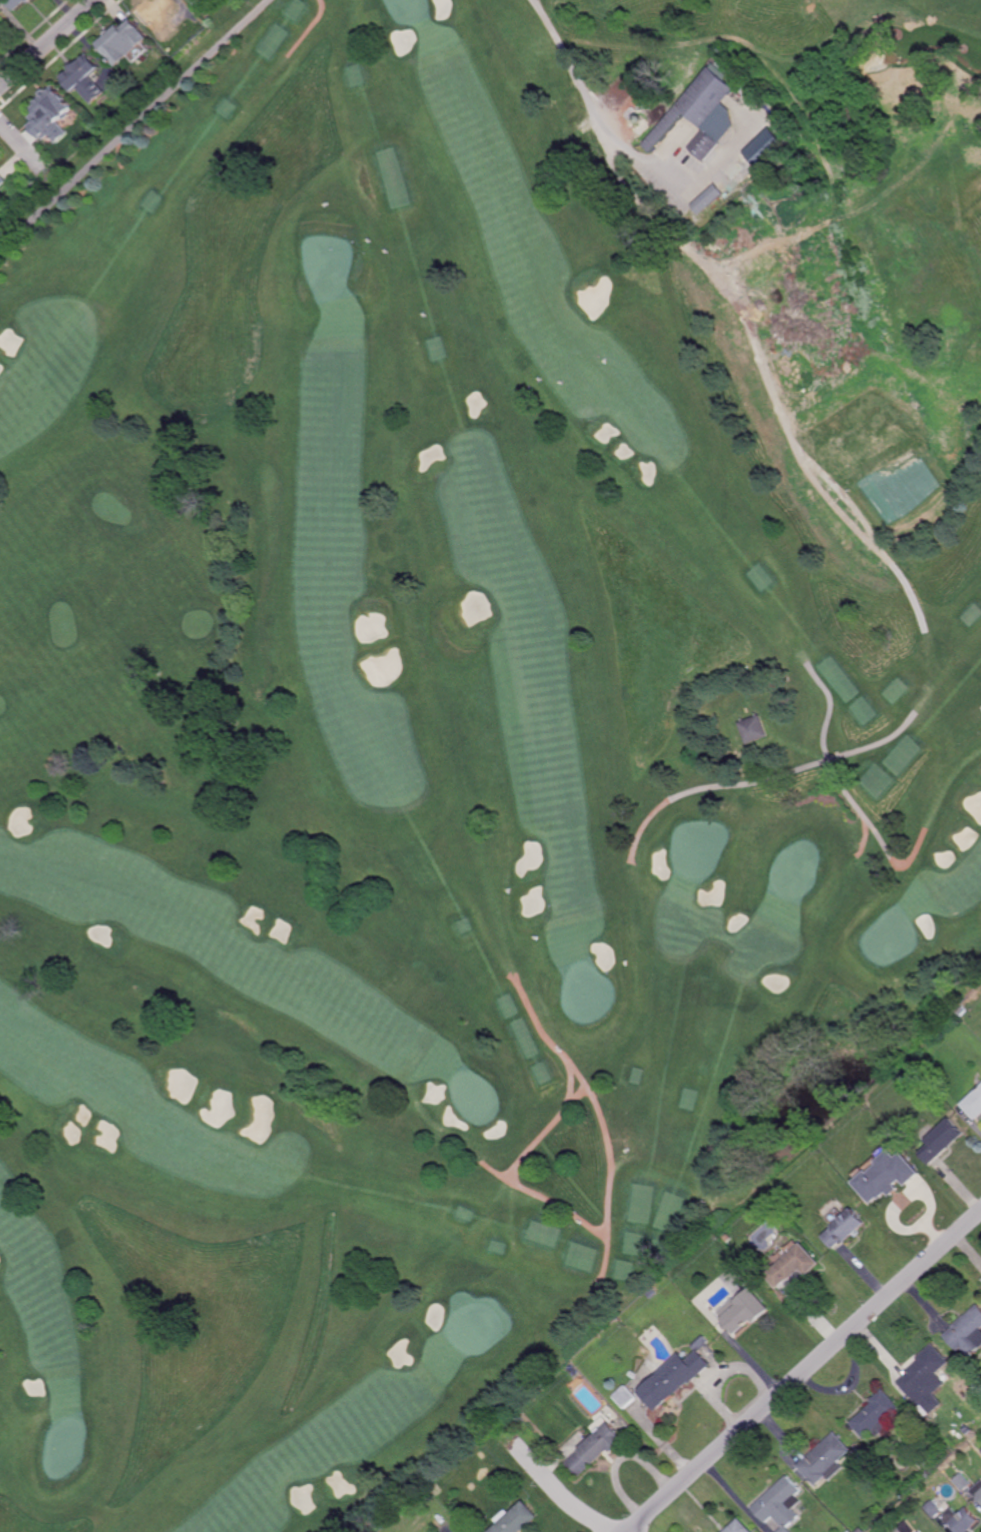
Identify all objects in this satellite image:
building: (197, 1)
building: (16, 3)
building: (158, 16)
building: (1, 25)
building: (0, 33)
building: (125, 43)
road: (50, 46)
building: (85, 79)
road: (592, 101)
building: (51, 109)
building: (705, 116)
road: (134, 125)
road: (22, 145)
building: (767, 150)
building: (2, 180)
building: (709, 199)
road: (745, 307)
park: (463, 709)
building: (754, 729)
road: (828, 760)
road: (765, 783)
park: (891, 938)
building: (962, 1011)
road: (551, 1042)
road: (575, 1099)
building: (973, 1106)
building: (943, 1138)
building: (820, 1145)
road: (496, 1172)
building: (896, 1183)
building: (846, 1226)
building: (730, 1237)
building: (797, 1263)
building: (654, 1292)
building: (747, 1309)
building: (967, 1332)
road: (805, 1372)
building: (678, 1375)
building: (926, 1380)
building: (627, 1396)
building: (876, 1415)
building: (968, 1429)
building: (598, 1446)
building: (826, 1460)
building: (927, 1474)
building: (963, 1482)
building: (436, 1489)
building: (978, 1491)
road: (560, 1492)
building: (784, 1505)
building: (935, 1510)
building: (516, 1519)
building: (962, 1519)
building: (742, 1527)
building: (883, 1528)
building: (907, 1528)
building: (861, 1530)

